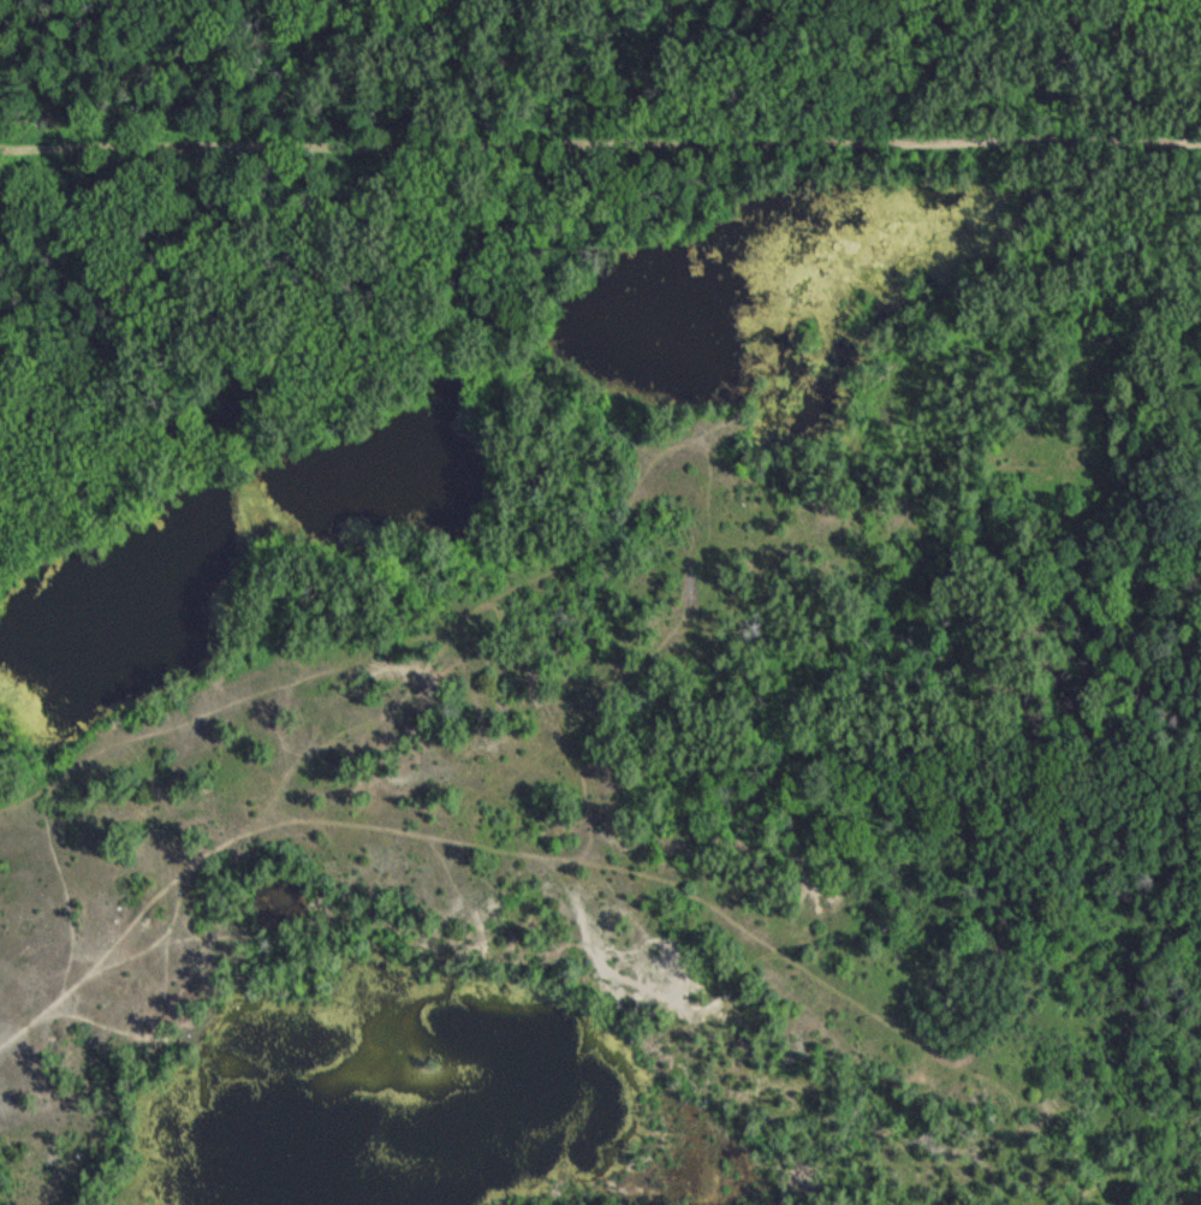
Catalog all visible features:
road: (293, 144)

